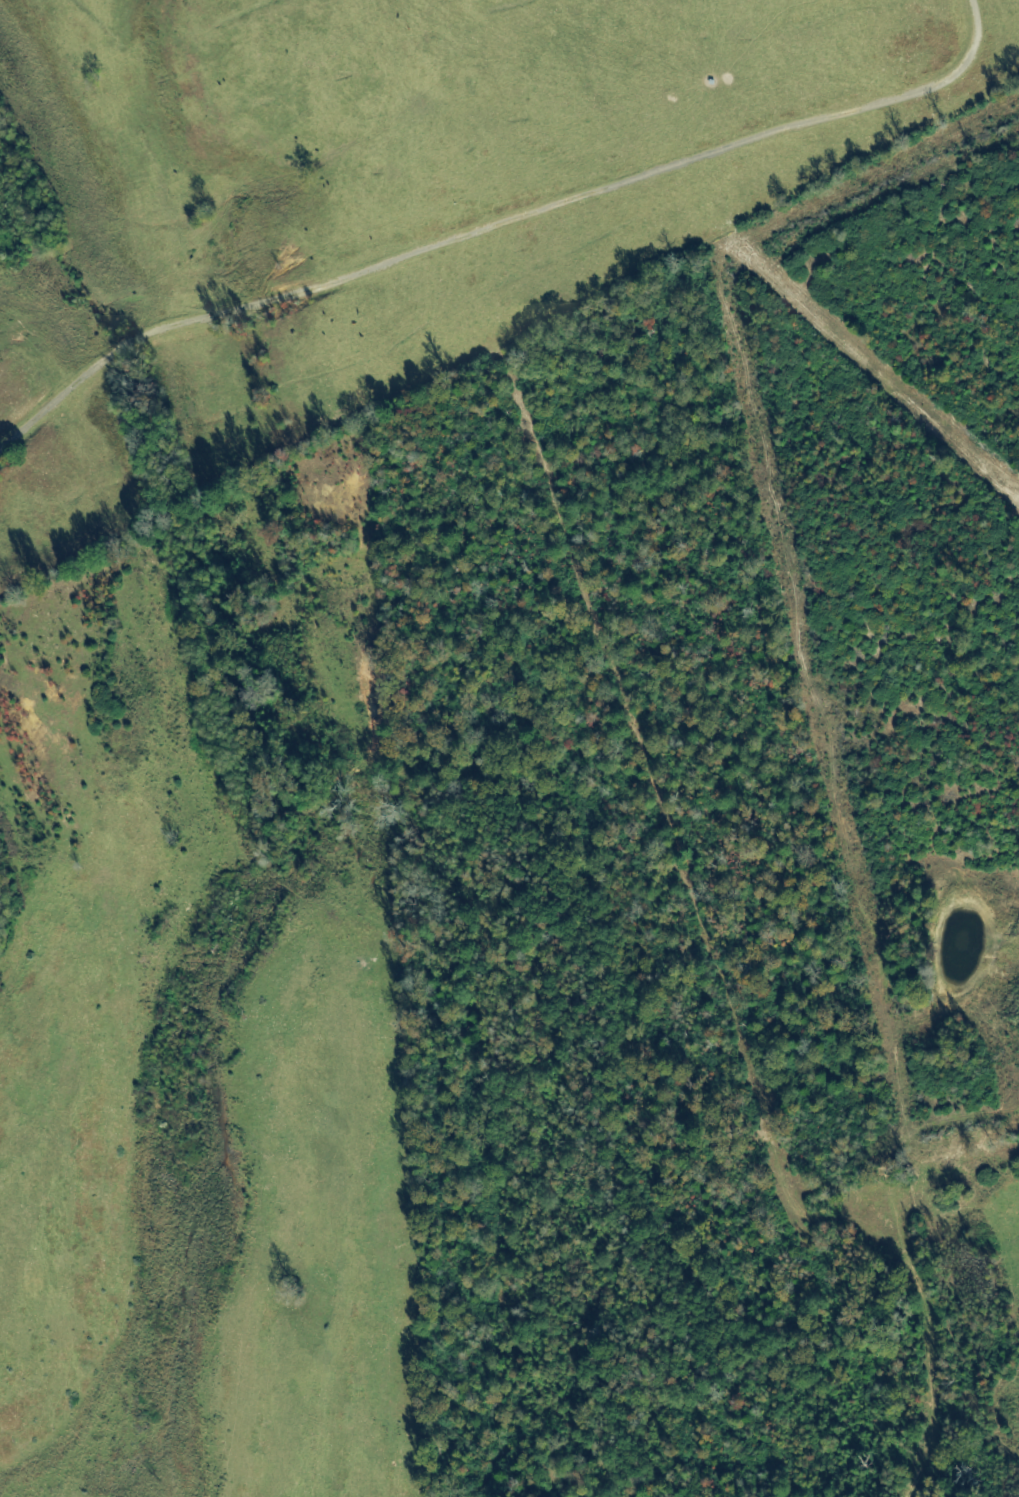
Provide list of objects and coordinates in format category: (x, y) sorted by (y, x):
road: (500, 220)
road: (447, 1495)

